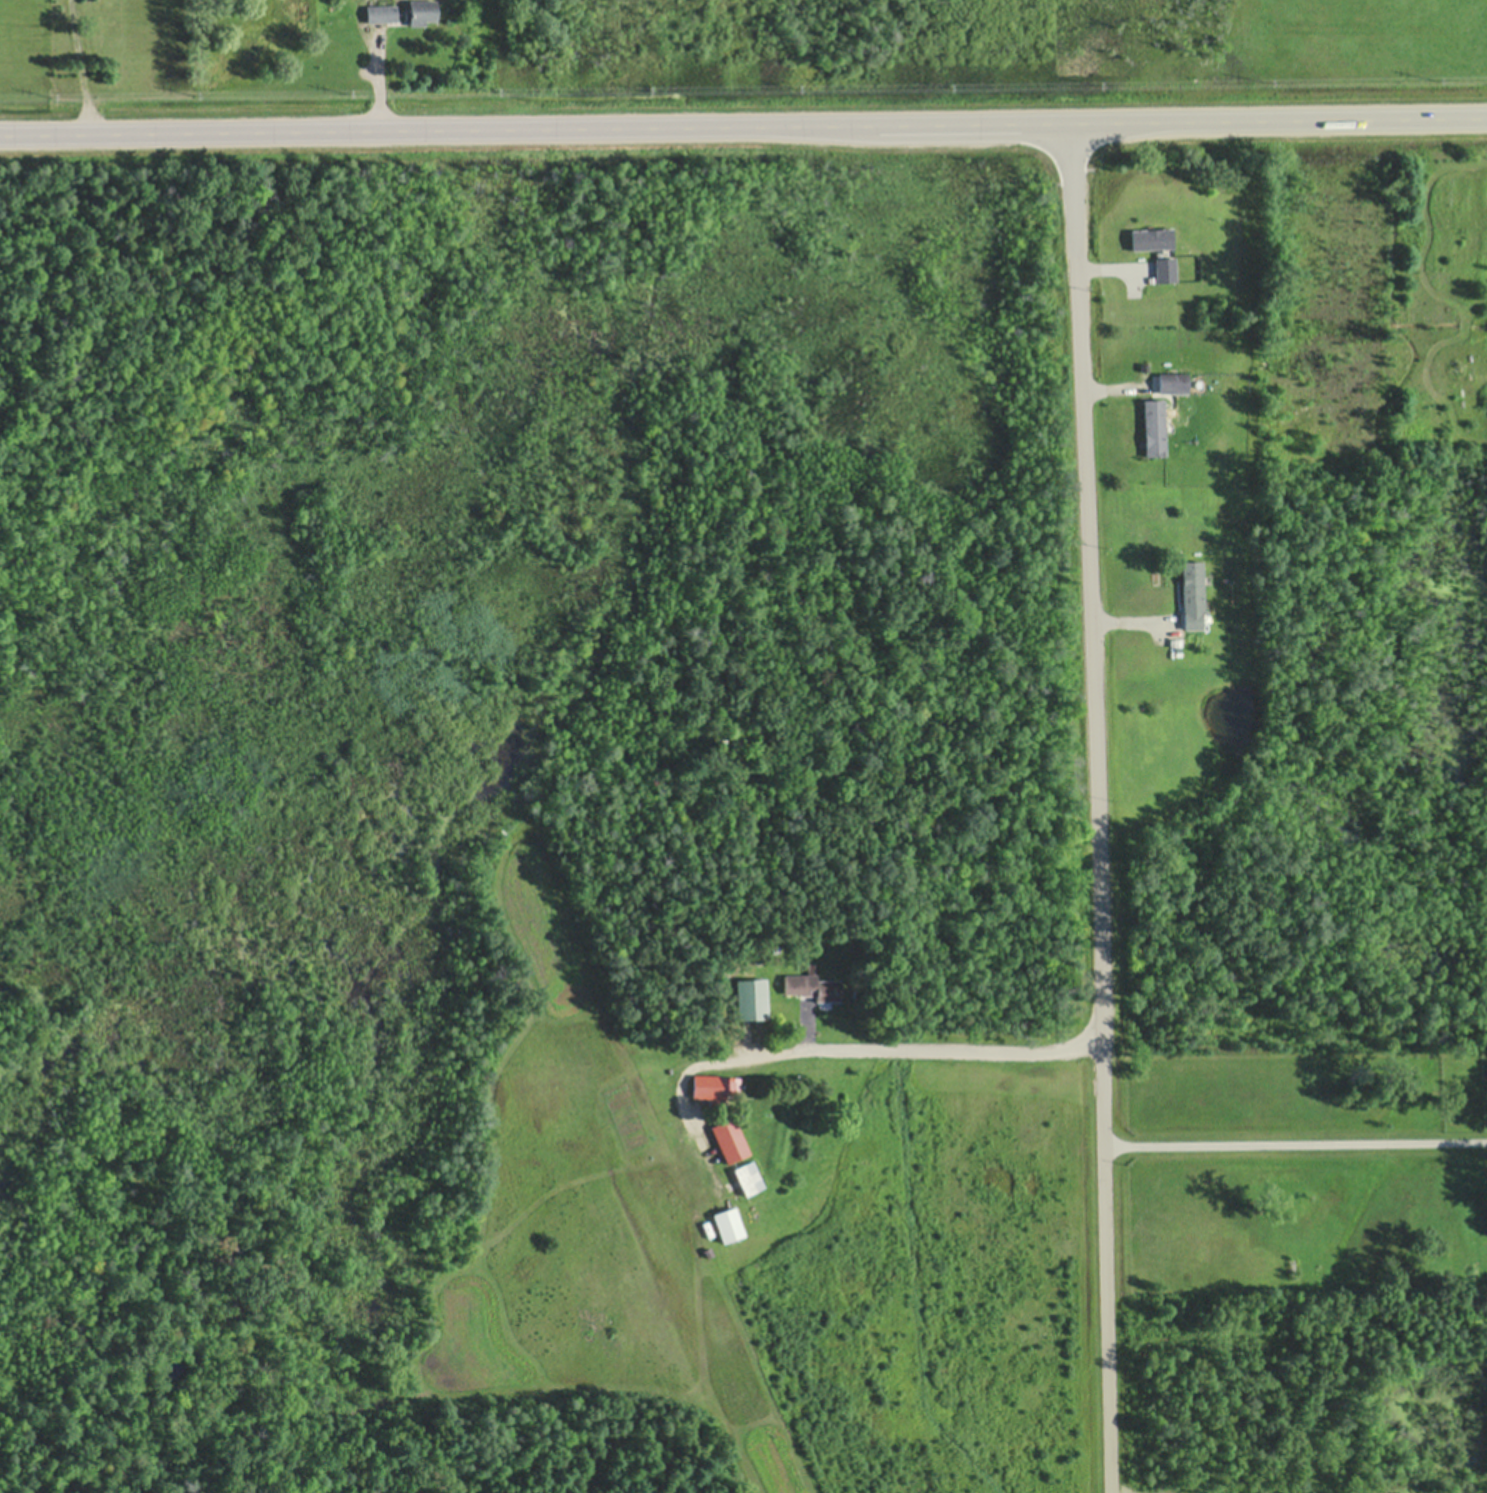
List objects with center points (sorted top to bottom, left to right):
building: (422, 10)
building: (382, 11)
power tower: (1429, 77)
power tower: (1260, 79)
power tower: (1089, 82)
power tower: (789, 84)
power tower: (939, 84)
power tower: (641, 87)
power tower: (488, 88)
power tower: (339, 89)
power tower: (190, 92)
power tower: (45, 95)
road: (743, 128)
building: (1151, 237)
building: (1163, 269)
building: (1144, 366)
building: (1172, 380)
building: (1153, 425)
building: (1191, 592)
road: (1095, 808)
building: (811, 984)
building: (750, 997)
building: (653, 1046)
building: (633, 1047)
road: (846, 1047)
building: (712, 1086)
building: (729, 1139)
road: (1295, 1143)
airport runway: (645, 1176)
building: (747, 1176)
building: (727, 1222)

